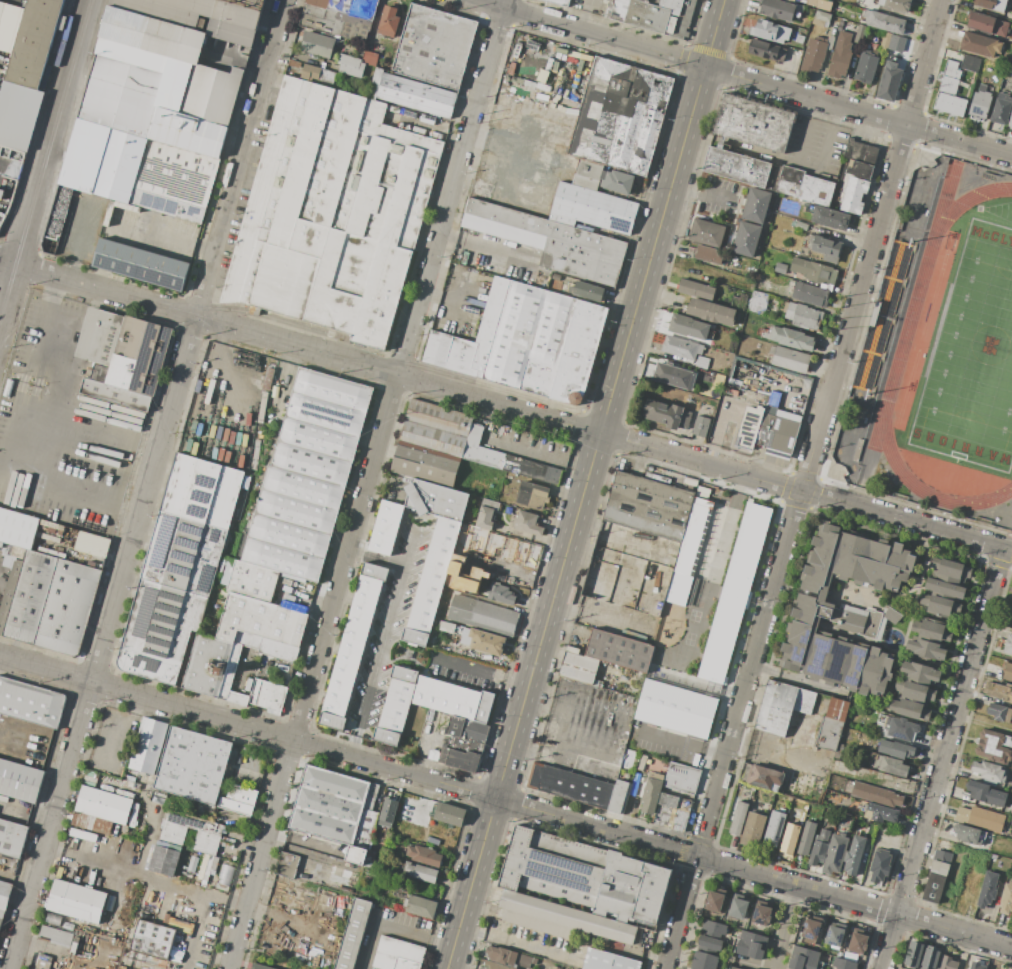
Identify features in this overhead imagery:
building: (790, 0)
building: (559, 2)
building: (249, 3)
road: (502, 3)
building: (819, 4)
building: (991, 4)
building: (897, 5)
building: (777, 9)
road: (586, 14)
building: (652, 14)
building: (201, 16)
building: (340, 17)
building: (821, 19)
building: (389, 21)
building: (884, 22)
building: (986, 24)
building: (9, 25)
building: (770, 31)
building: (152, 34)
building: (859, 34)
building: (799, 39)
building: (33, 42)
building: (830, 42)
building: (885, 42)
building: (317, 44)
building: (895, 44)
building: (980, 45)
building: (435, 46)
building: (766, 50)
building: (814, 55)
building: (840, 55)
building: (370, 58)
building: (970, 63)
building: (351, 65)
building: (865, 68)
building: (310, 71)
building: (327, 76)
building: (950, 78)
road: (745, 79)
building: (889, 82)
building: (375, 83)
building: (132, 87)
building: (211, 94)
building: (416, 95)
building: (980, 103)
building: (949, 104)
building: (1001, 109)
building: (22, 112)
building: (621, 115)
building: (1010, 122)
building: (754, 123)
road: (806, 130)
building: (188, 132)
road: (827, 137)
building: (860, 152)
road: (776, 157)
railway: (46, 159)
road: (46, 159)
building: (119, 165)
building: (741, 169)
building: (859, 169)
building: (588, 174)
building: (174, 181)
building: (790, 181)
building: (616, 182)
building: (816, 191)
road: (702, 195)
building: (854, 195)
building: (756, 206)
building: (592, 209)
building: (332, 213)
building: (831, 218)
building: (801, 225)
building: (707, 233)
road: (162, 236)
road: (79, 237)
building: (746, 238)
road: (446, 239)
building: (550, 241)
building: (825, 248)
road: (495, 254)
building: (708, 254)
building: (140, 264)
building: (780, 267)
building: (814, 271)
building: (792, 282)
building: (827, 286)
building: (696, 290)
building: (587, 291)
road: (457, 292)
building: (810, 294)
road: (438, 296)
building: (739, 301)
building: (757, 302)
building: (711, 312)
building: (802, 315)
track: (910, 321)
building: (688, 327)
railway: (8, 333)
building: (99, 336)
building: (790, 338)
building: (529, 339)
building: (468, 340)
building: (681, 348)
building: (578, 353)
building: (139, 356)
building: (252, 358)
building: (789, 359)
park: (973, 359)
building: (702, 362)
road: (26, 366)
road: (222, 367)
building: (100, 373)
building: (673, 375)
building: (8, 388)
building: (748, 389)
building: (115, 394)
building: (774, 398)
road: (505, 406)
road: (48, 408)
building: (727, 410)
building: (667, 414)
building: (784, 414)
building: (779, 424)
building: (701, 426)
building: (435, 427)
building: (750, 429)
building: (474, 434)
building: (775, 443)
building: (857, 449)
road: (538, 453)
road: (92, 458)
building: (426, 463)
building: (511, 464)
building: (307, 475)
road: (800, 483)
road: (148, 484)
road: (585, 484)
road: (365, 487)
building: (202, 490)
building: (532, 495)
building: (436, 500)
building: (650, 506)
building: (486, 514)
building: (527, 523)
building: (385, 528)
building: (17, 529)
building: (697, 537)
building: (91, 547)
road: (407, 547)
building: (18, 553)
building: (184, 554)
road: (375, 556)
road: (513, 558)
building: (466, 566)
building: (950, 570)
building: (682, 579)
building: (253, 581)
building: (432, 582)
building: (944, 589)
building: (733, 591)
building: (501, 594)
building: (26, 596)
building: (940, 605)
building: (814, 606)
building: (67, 607)
park: (1007, 610)
building: (483, 616)
building: (262, 626)
building: (159, 630)
building: (931, 630)
building: (477, 638)
building: (1008, 644)
building: (352, 646)
building: (572, 649)
building: (926, 649)
building: (619, 650)
road: (375, 660)
building: (877, 661)
building: (211, 666)
building: (578, 667)
road: (482, 670)
building: (1007, 672)
building: (920, 673)
building: (872, 682)
building: (914, 691)
building: (998, 691)
building: (268, 695)
building: (238, 698)
building: (453, 699)
building: (30, 702)
building: (396, 706)
building: (782, 706)
building: (675, 708)
building: (908, 709)
building: (1000, 713)
building: (832, 724)
road: (121, 727)
building: (902, 728)
building: (467, 729)
building: (762, 736)
road: (681, 741)
building: (149, 746)
building: (994, 746)
building: (896, 749)
road: (942, 758)
building: (459, 759)
building: (642, 763)
building: (192, 765)
building: (891, 766)
building: (987, 770)
road: (362, 776)
building: (763, 776)
building: (682, 778)
building: (20, 780)
building: (570, 786)
building: (983, 792)
building: (651, 793)
building: (241, 794)
building: (371, 796)
building: (617, 796)
building: (161, 797)
building: (883, 797)
road: (506, 800)
building: (329, 804)
building: (103, 805)
building: (235, 806)
building: (387, 811)
building: (417, 812)
building: (672, 812)
building: (882, 813)
building: (449, 814)
building: (739, 818)
building: (980, 818)
building: (90, 822)
building: (365, 829)
building: (753, 829)
building: (774, 829)
building: (966, 834)
building: (173, 835)
road: (571, 836)
building: (12, 838)
building: (807, 838)
building: (81, 841)
road: (305, 842)
building: (819, 848)
building: (835, 854)
building: (357, 855)
building: (424, 855)
building: (943, 856)
building: (993, 857)
building: (369, 859)
building: (852, 859)
building: (6, 861)
building: (879, 866)
building: (305, 868)
building: (420, 873)
road: (137, 874)
building: (224, 874)
building: (585, 876)
building: (935, 881)
building: (987, 890)
building: (4, 894)
road: (765, 894)
building: (1006, 899)
building: (76, 901)
building: (714, 901)
building: (420, 906)
building: (738, 909)
road: (203, 913)
building: (762, 914)
building: (1, 916)
building: (560, 918)
road: (392, 926)
road: (784, 927)
building: (811, 930)
building: (353, 934)
building: (712, 935)
building: (835, 935)
building: (55, 936)
road: (518, 941)
building: (153, 942)
building: (857, 942)
road: (941, 943)
building: (751, 945)
building: (397, 954)
building: (914, 954)
building: (502, 955)
building: (930, 957)
building: (803, 958)
building: (525, 960)
building: (606, 961)
building: (704, 961)
building: (42, 962)
building: (946, 962)
building: (843, 964)
building: (978, 964)
building: (495, 965)
road: (752, 965)
building: (260, 966)
building: (555, 967)
building: (733, 968)

